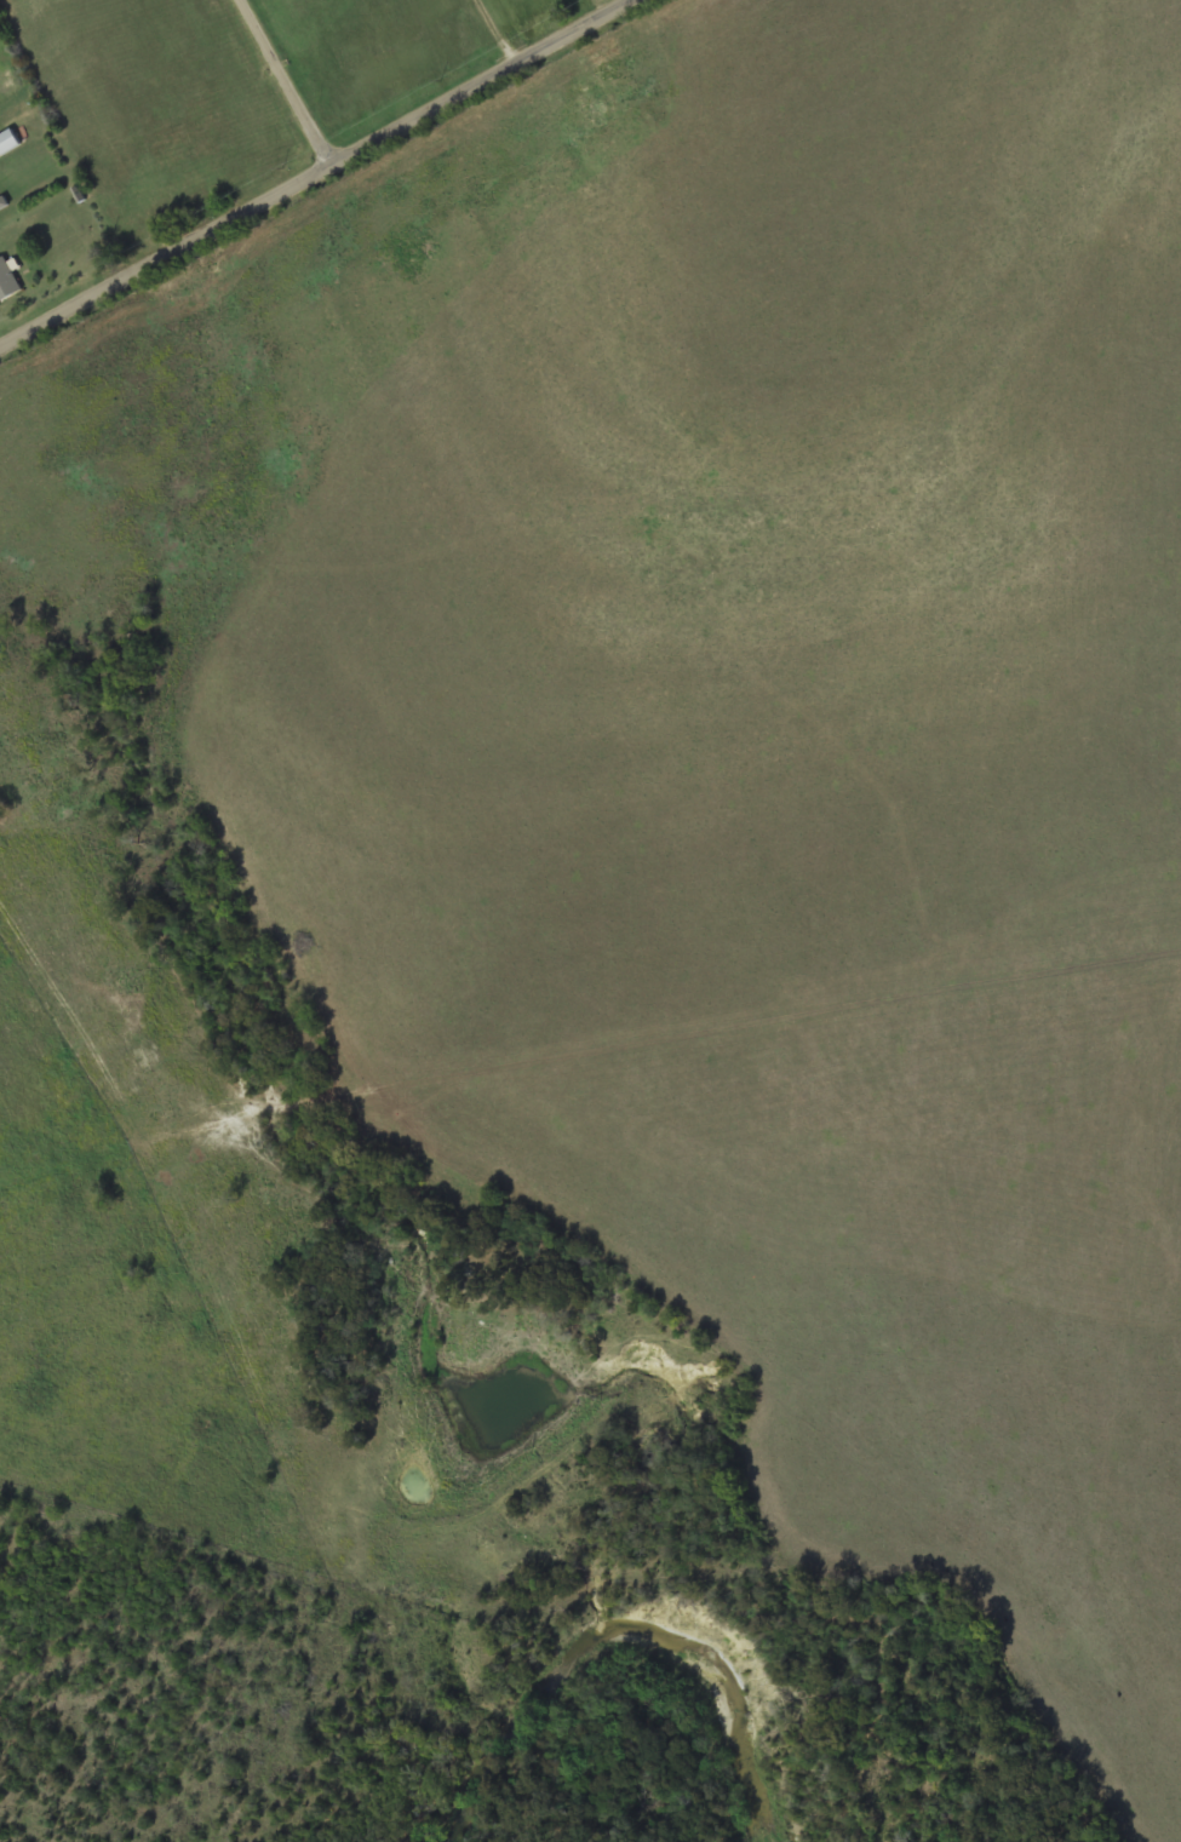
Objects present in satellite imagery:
road: (277, 87)
road: (322, 174)
building: (7, 280)

